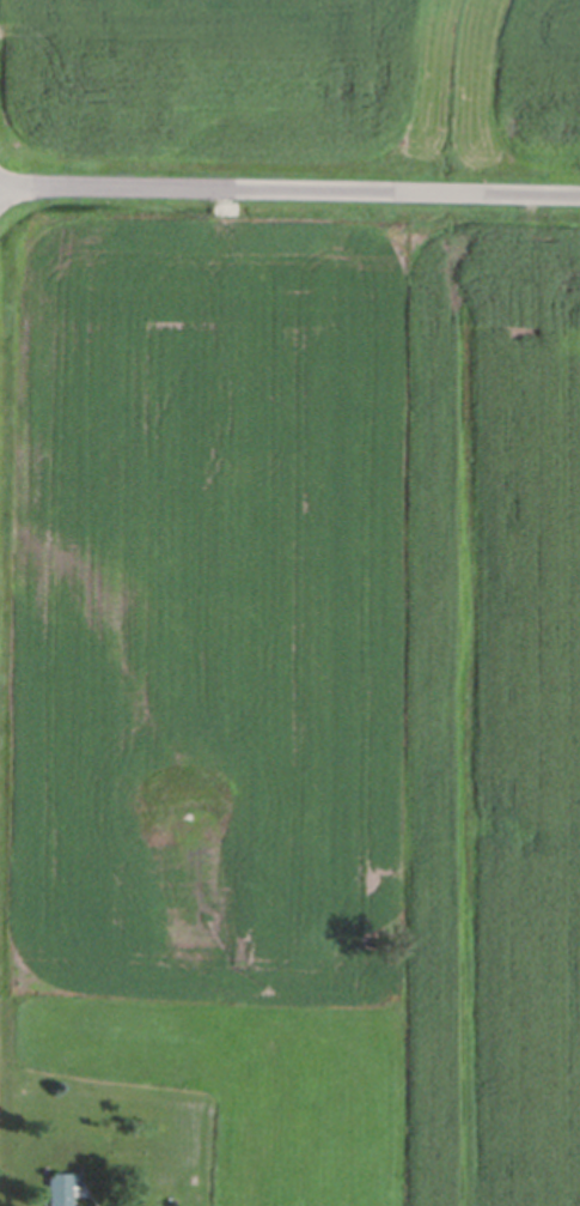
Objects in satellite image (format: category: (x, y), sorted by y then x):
road: (289, 186)
building: (61, 1186)
building: (78, 1189)

